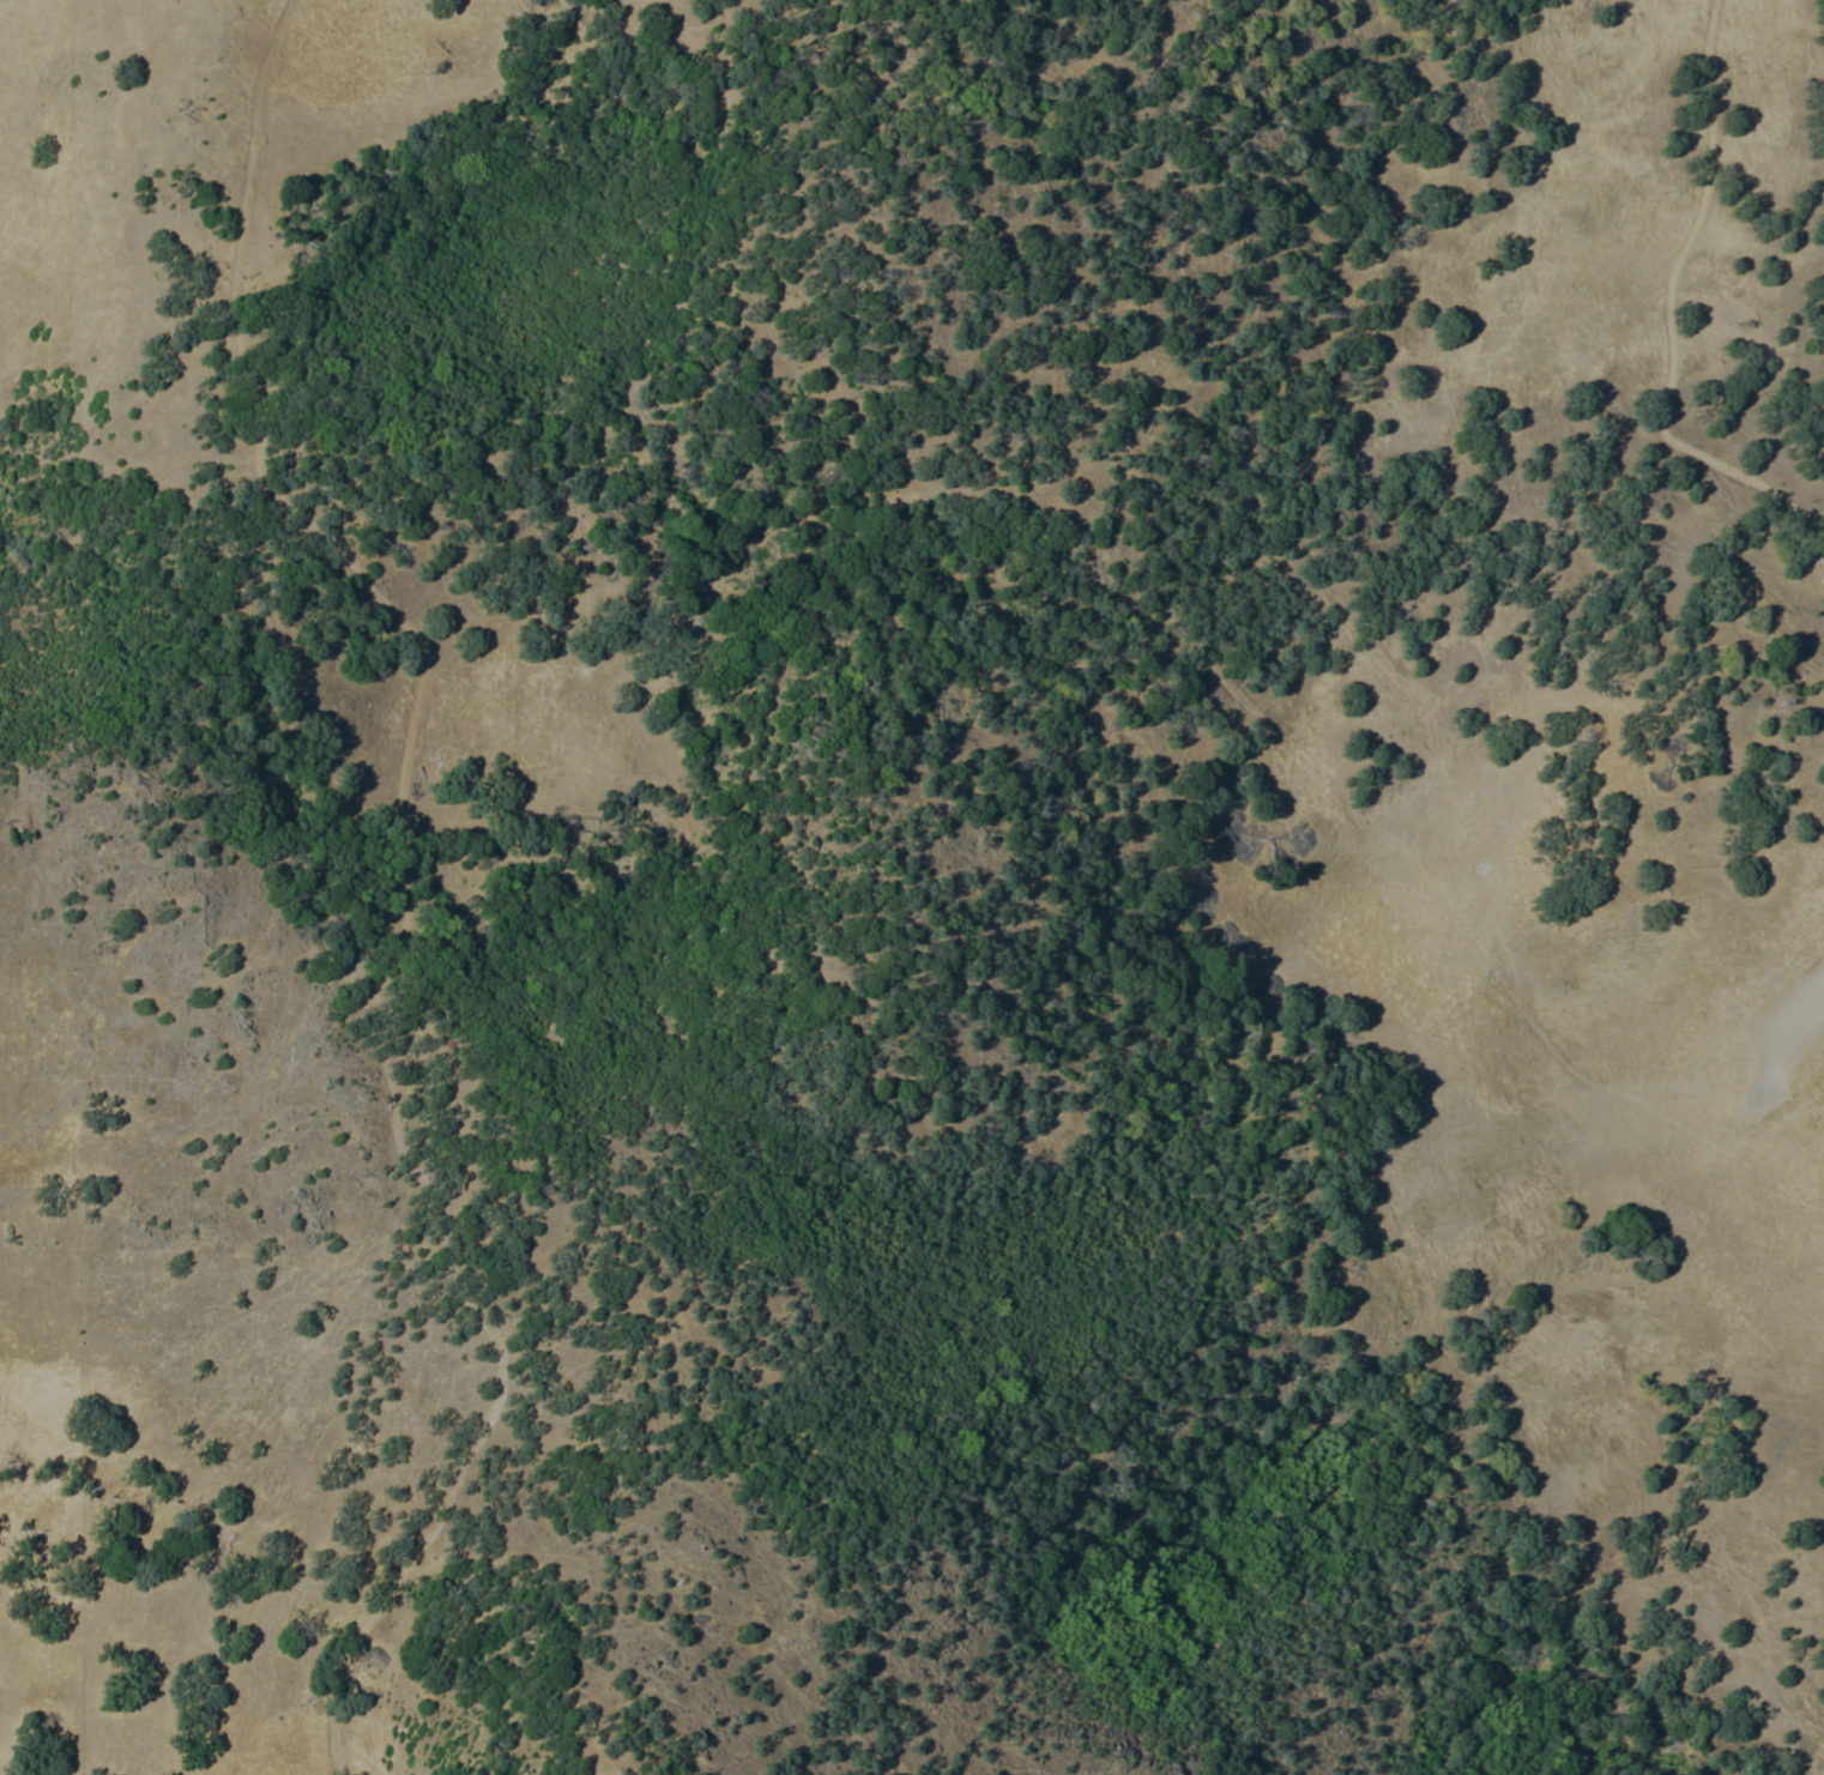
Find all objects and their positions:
road: (1668, 308)
road: (410, 873)

